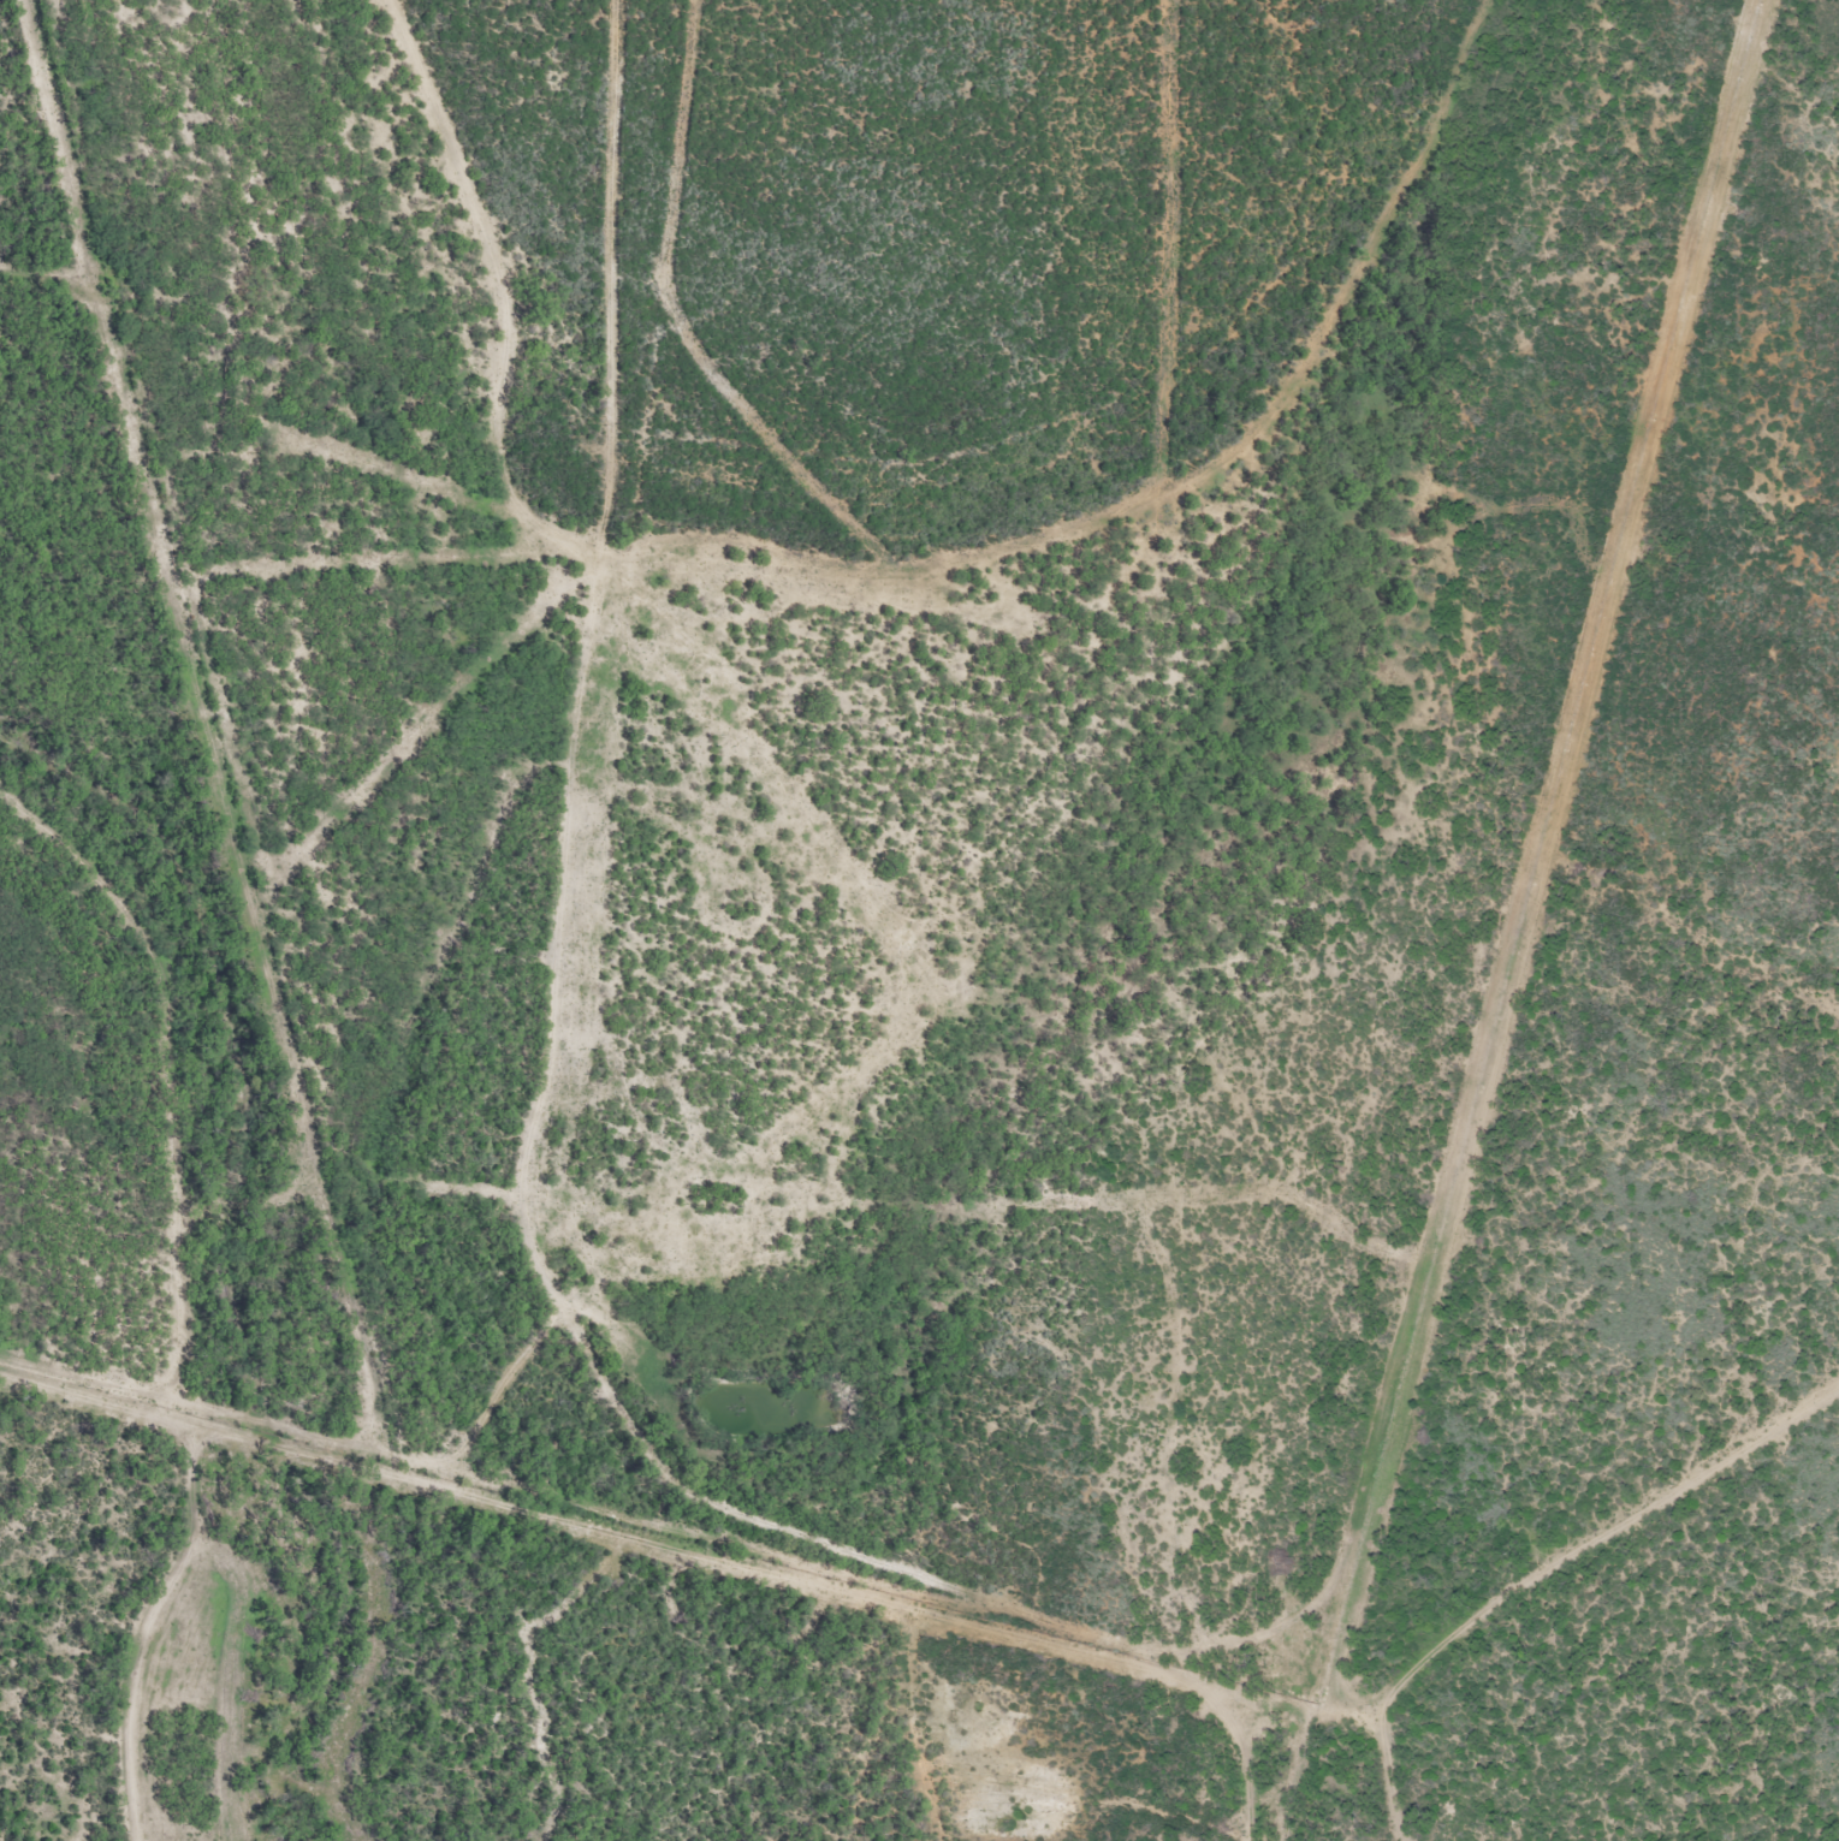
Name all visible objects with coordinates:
road: (475, 197)
road: (566, 764)
road: (154, 1087)
road: (963, 1593)
road: (1252, 1774)

